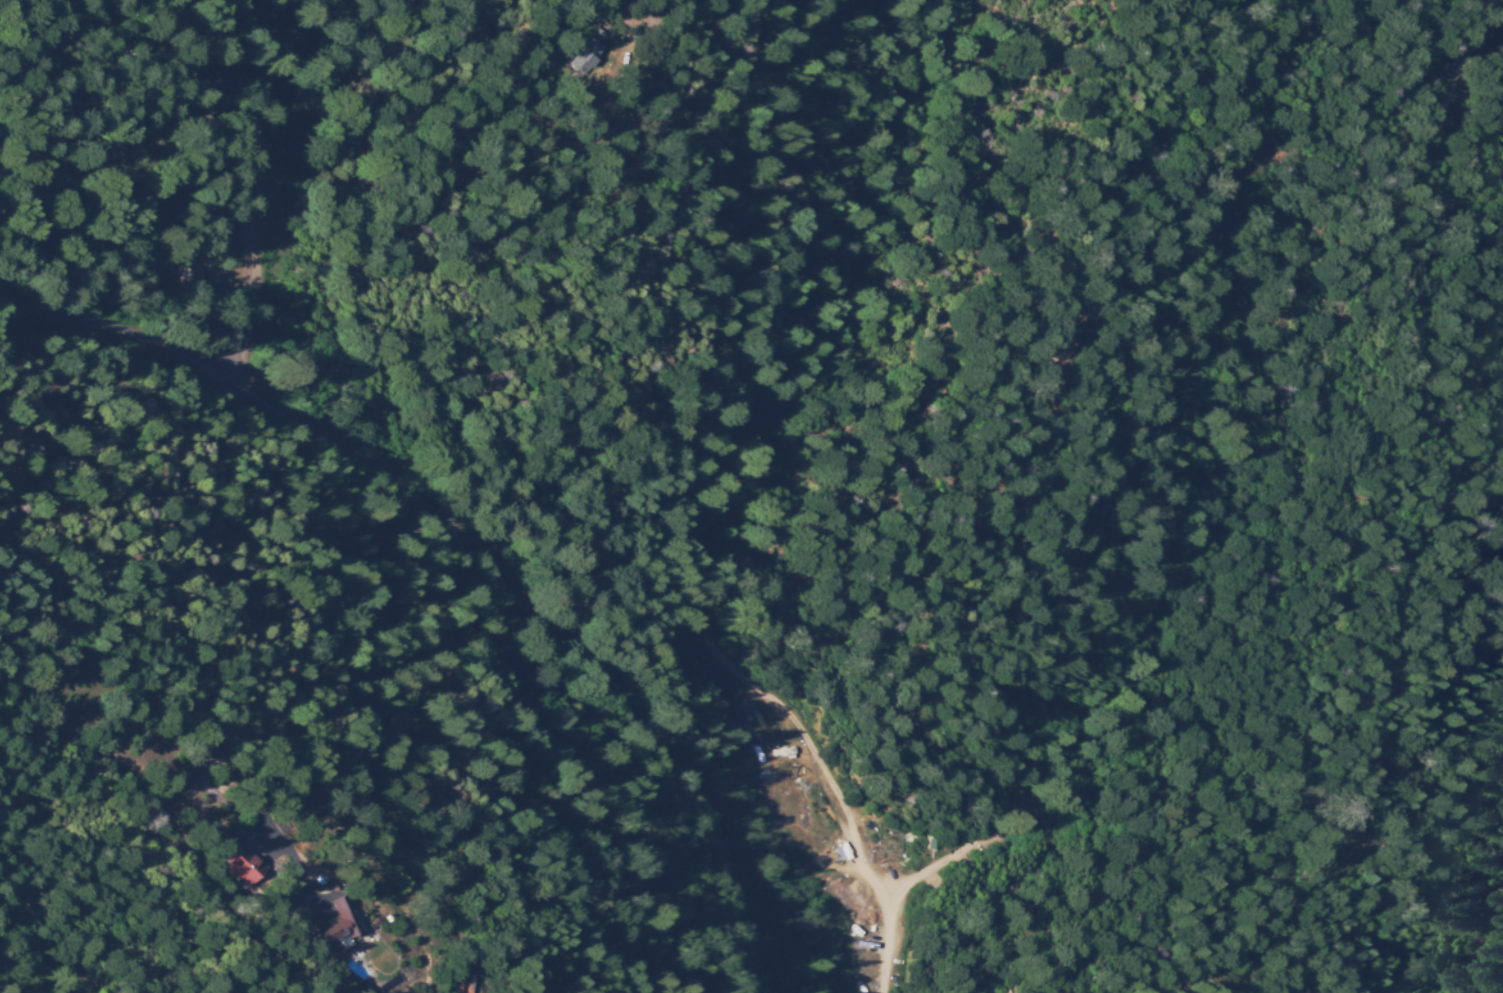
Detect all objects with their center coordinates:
building: (590, 53)
road: (596, 287)
road: (1185, 388)
road: (483, 538)
building: (233, 840)
building: (249, 868)
building: (342, 923)

